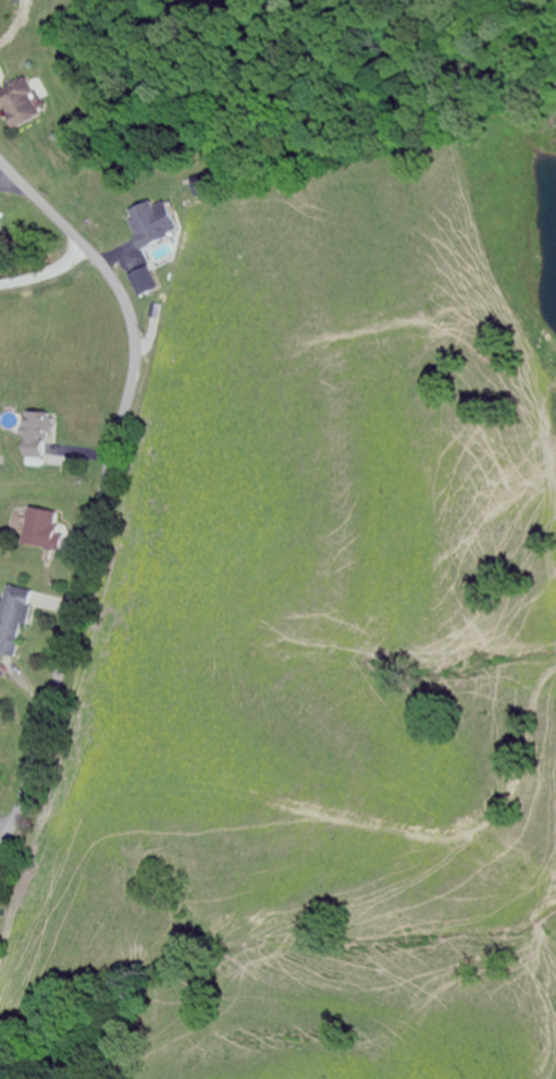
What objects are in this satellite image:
building: (20, 106)
building: (147, 236)
building: (34, 434)
road: (104, 483)
building: (37, 530)
building: (12, 620)

